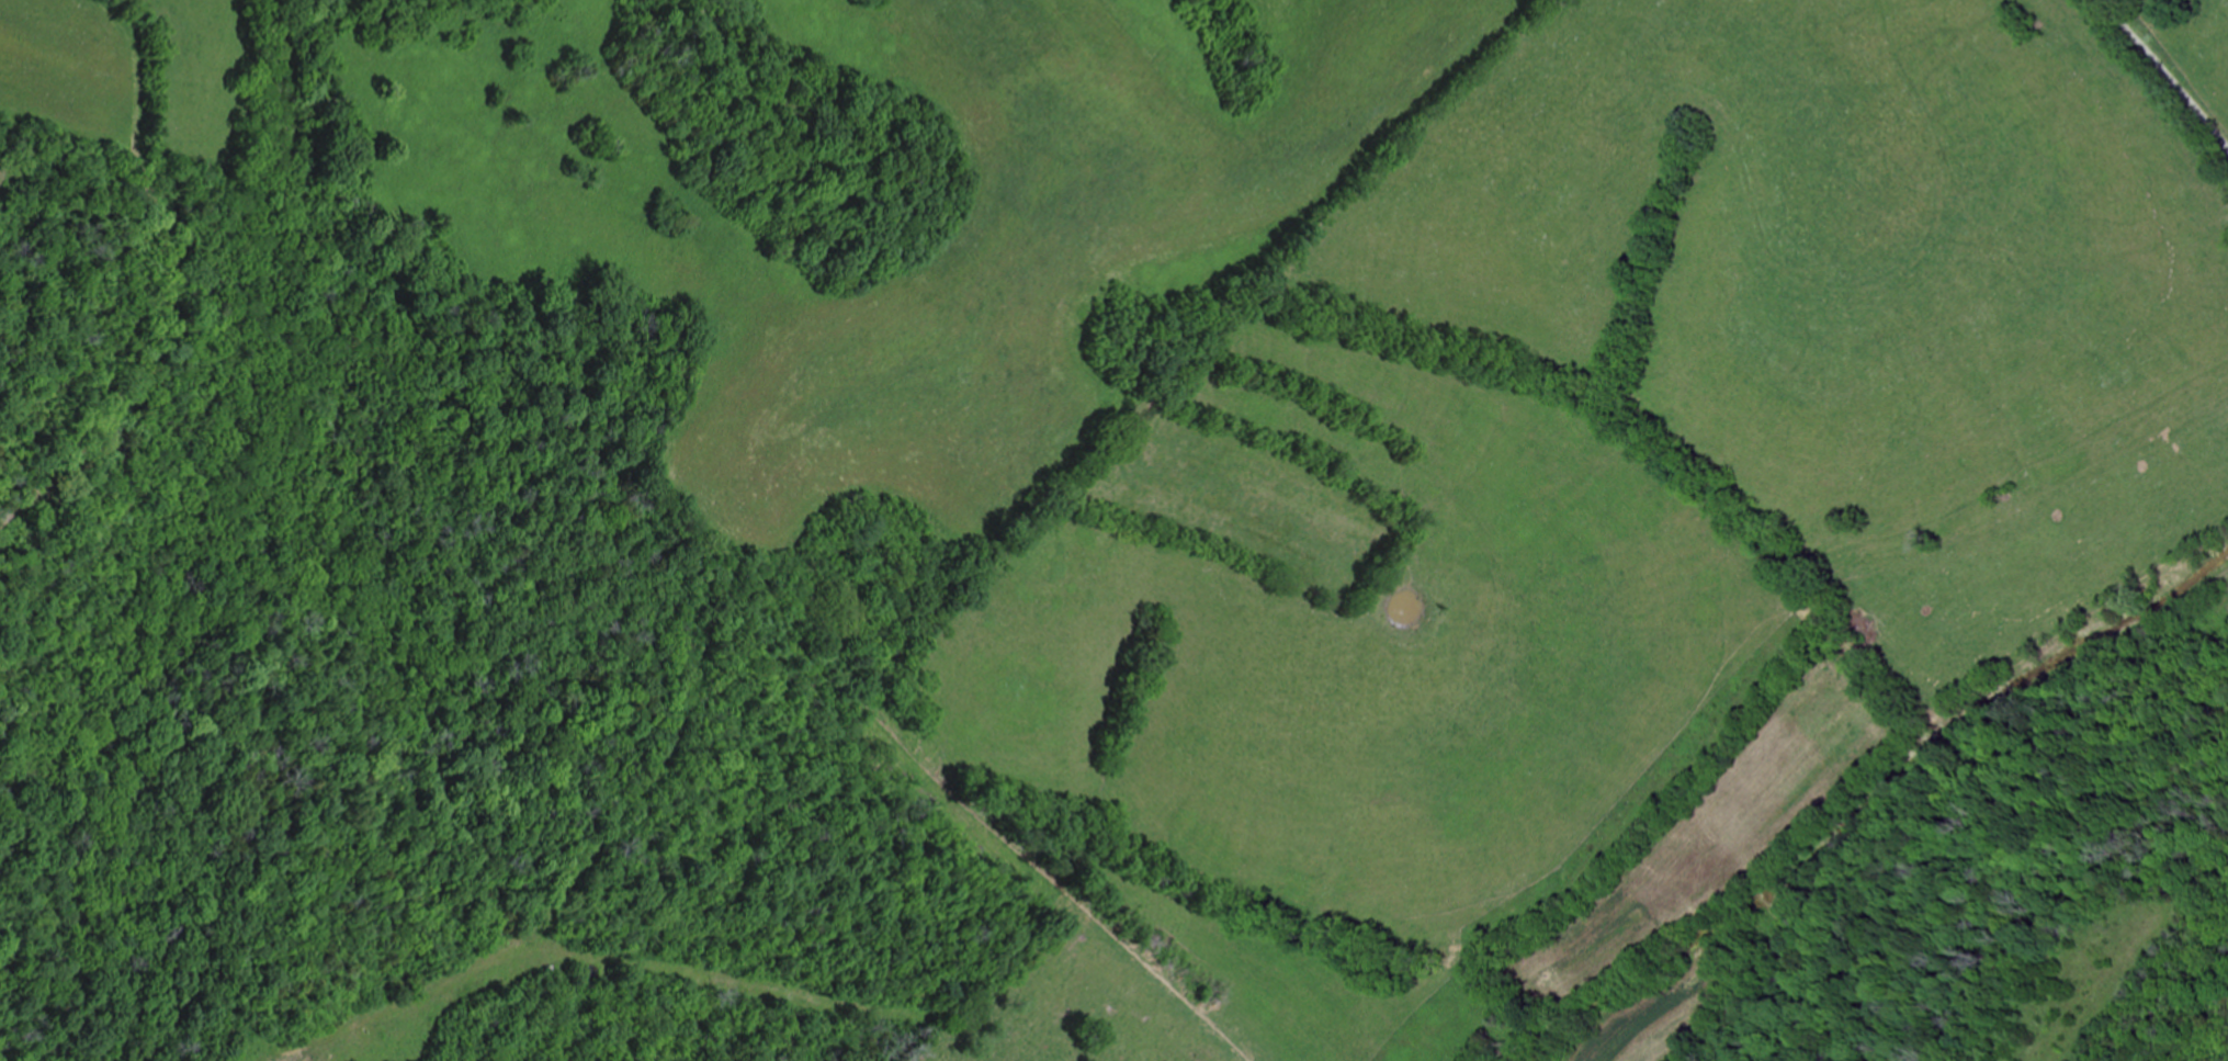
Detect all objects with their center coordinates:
road: (2164, 78)

